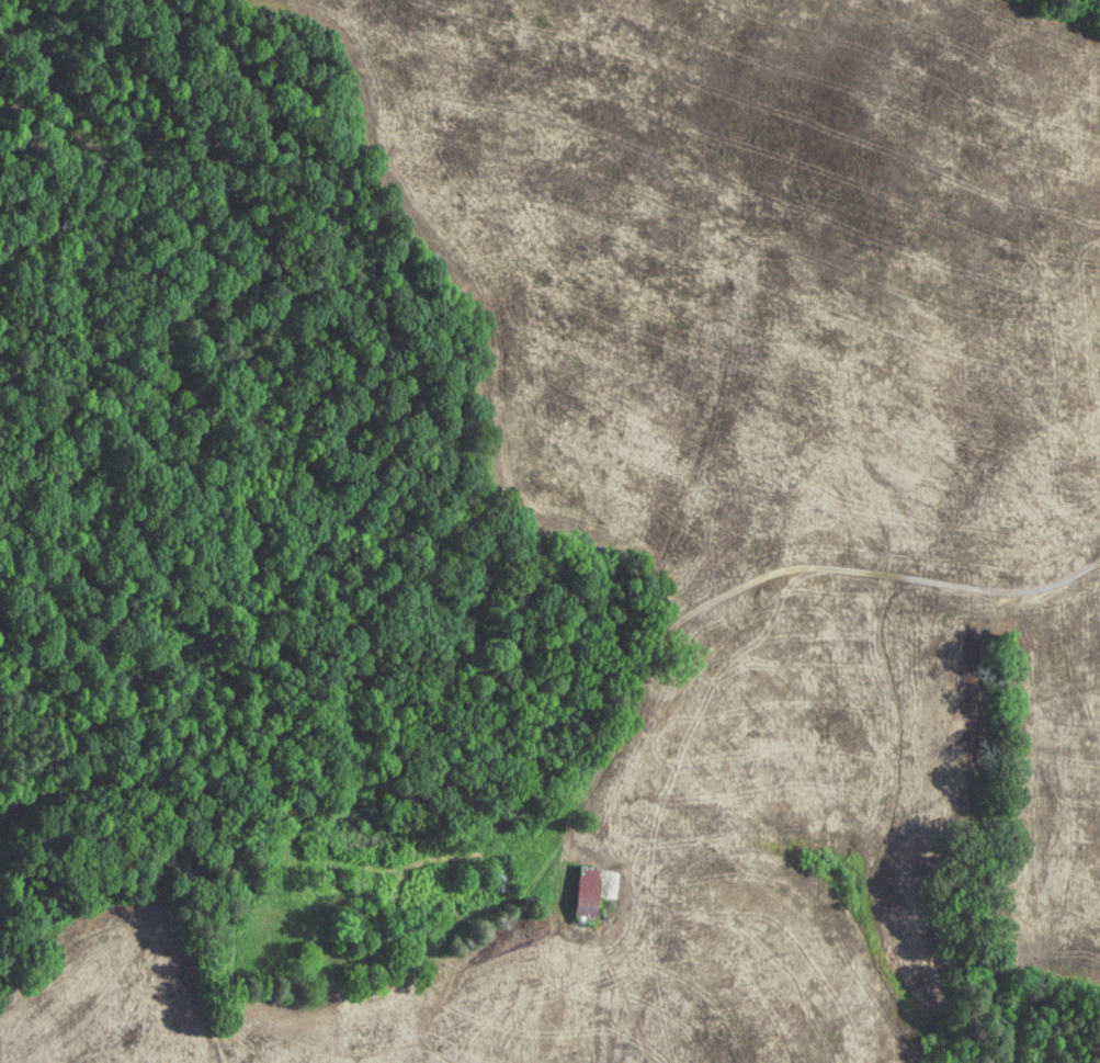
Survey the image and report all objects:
road: (762, 572)

